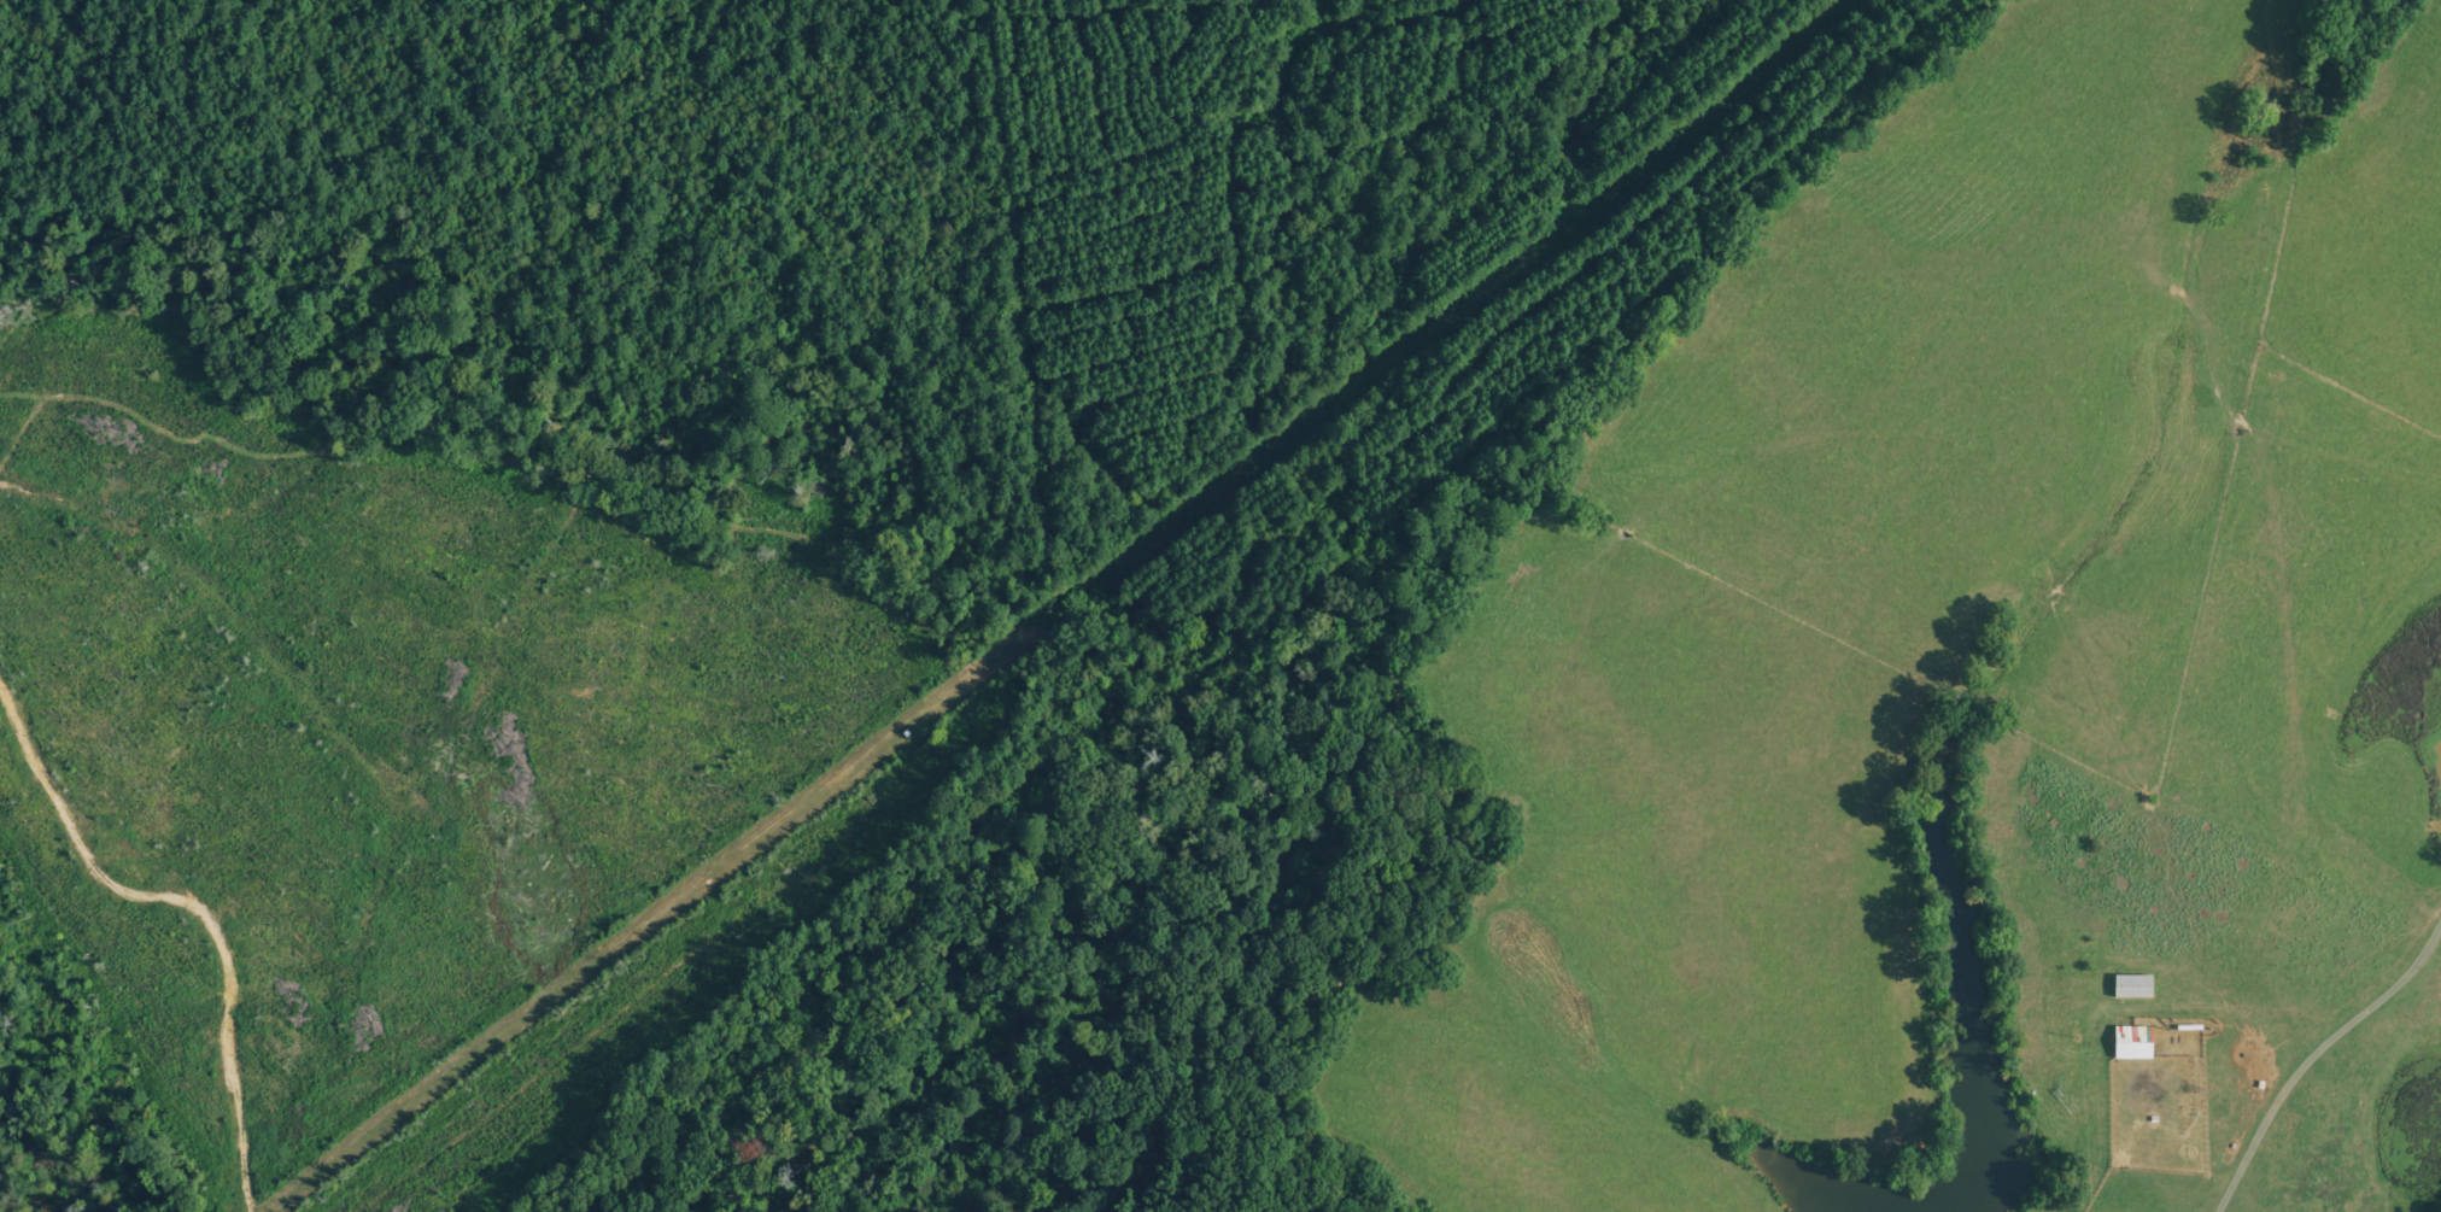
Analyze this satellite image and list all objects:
building: (2133, 986)
building: (2133, 1043)

